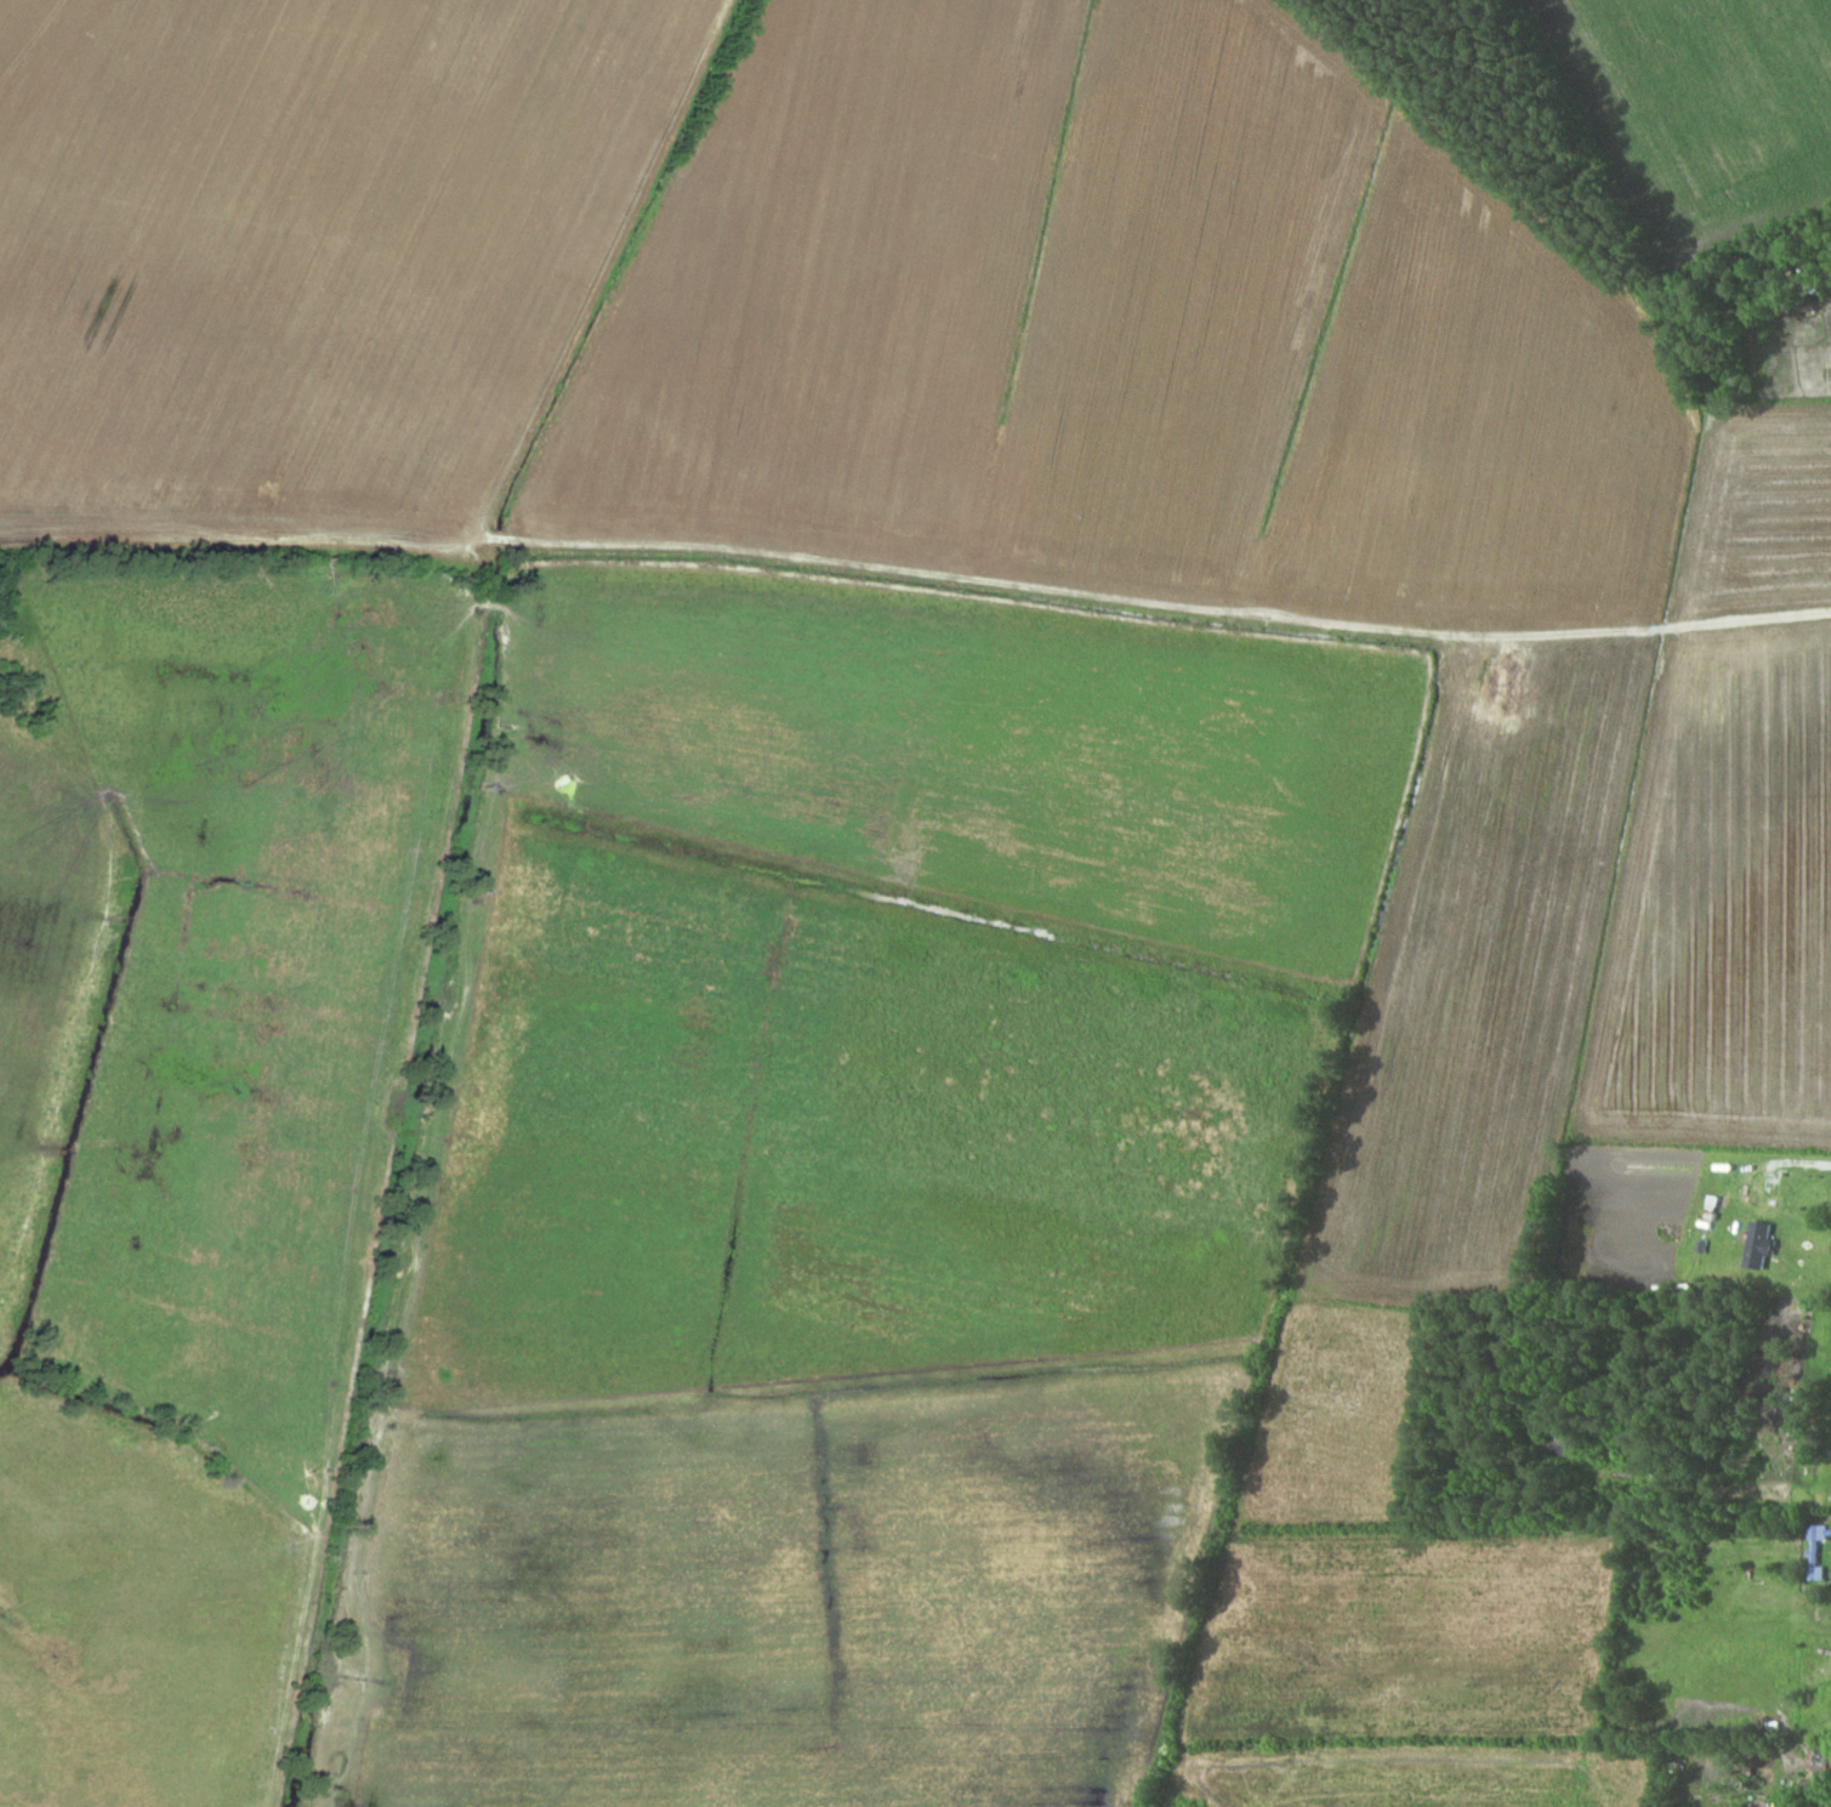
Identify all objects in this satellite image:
road: (1196, 567)
building: (1758, 1245)
building: (1823, 1758)

